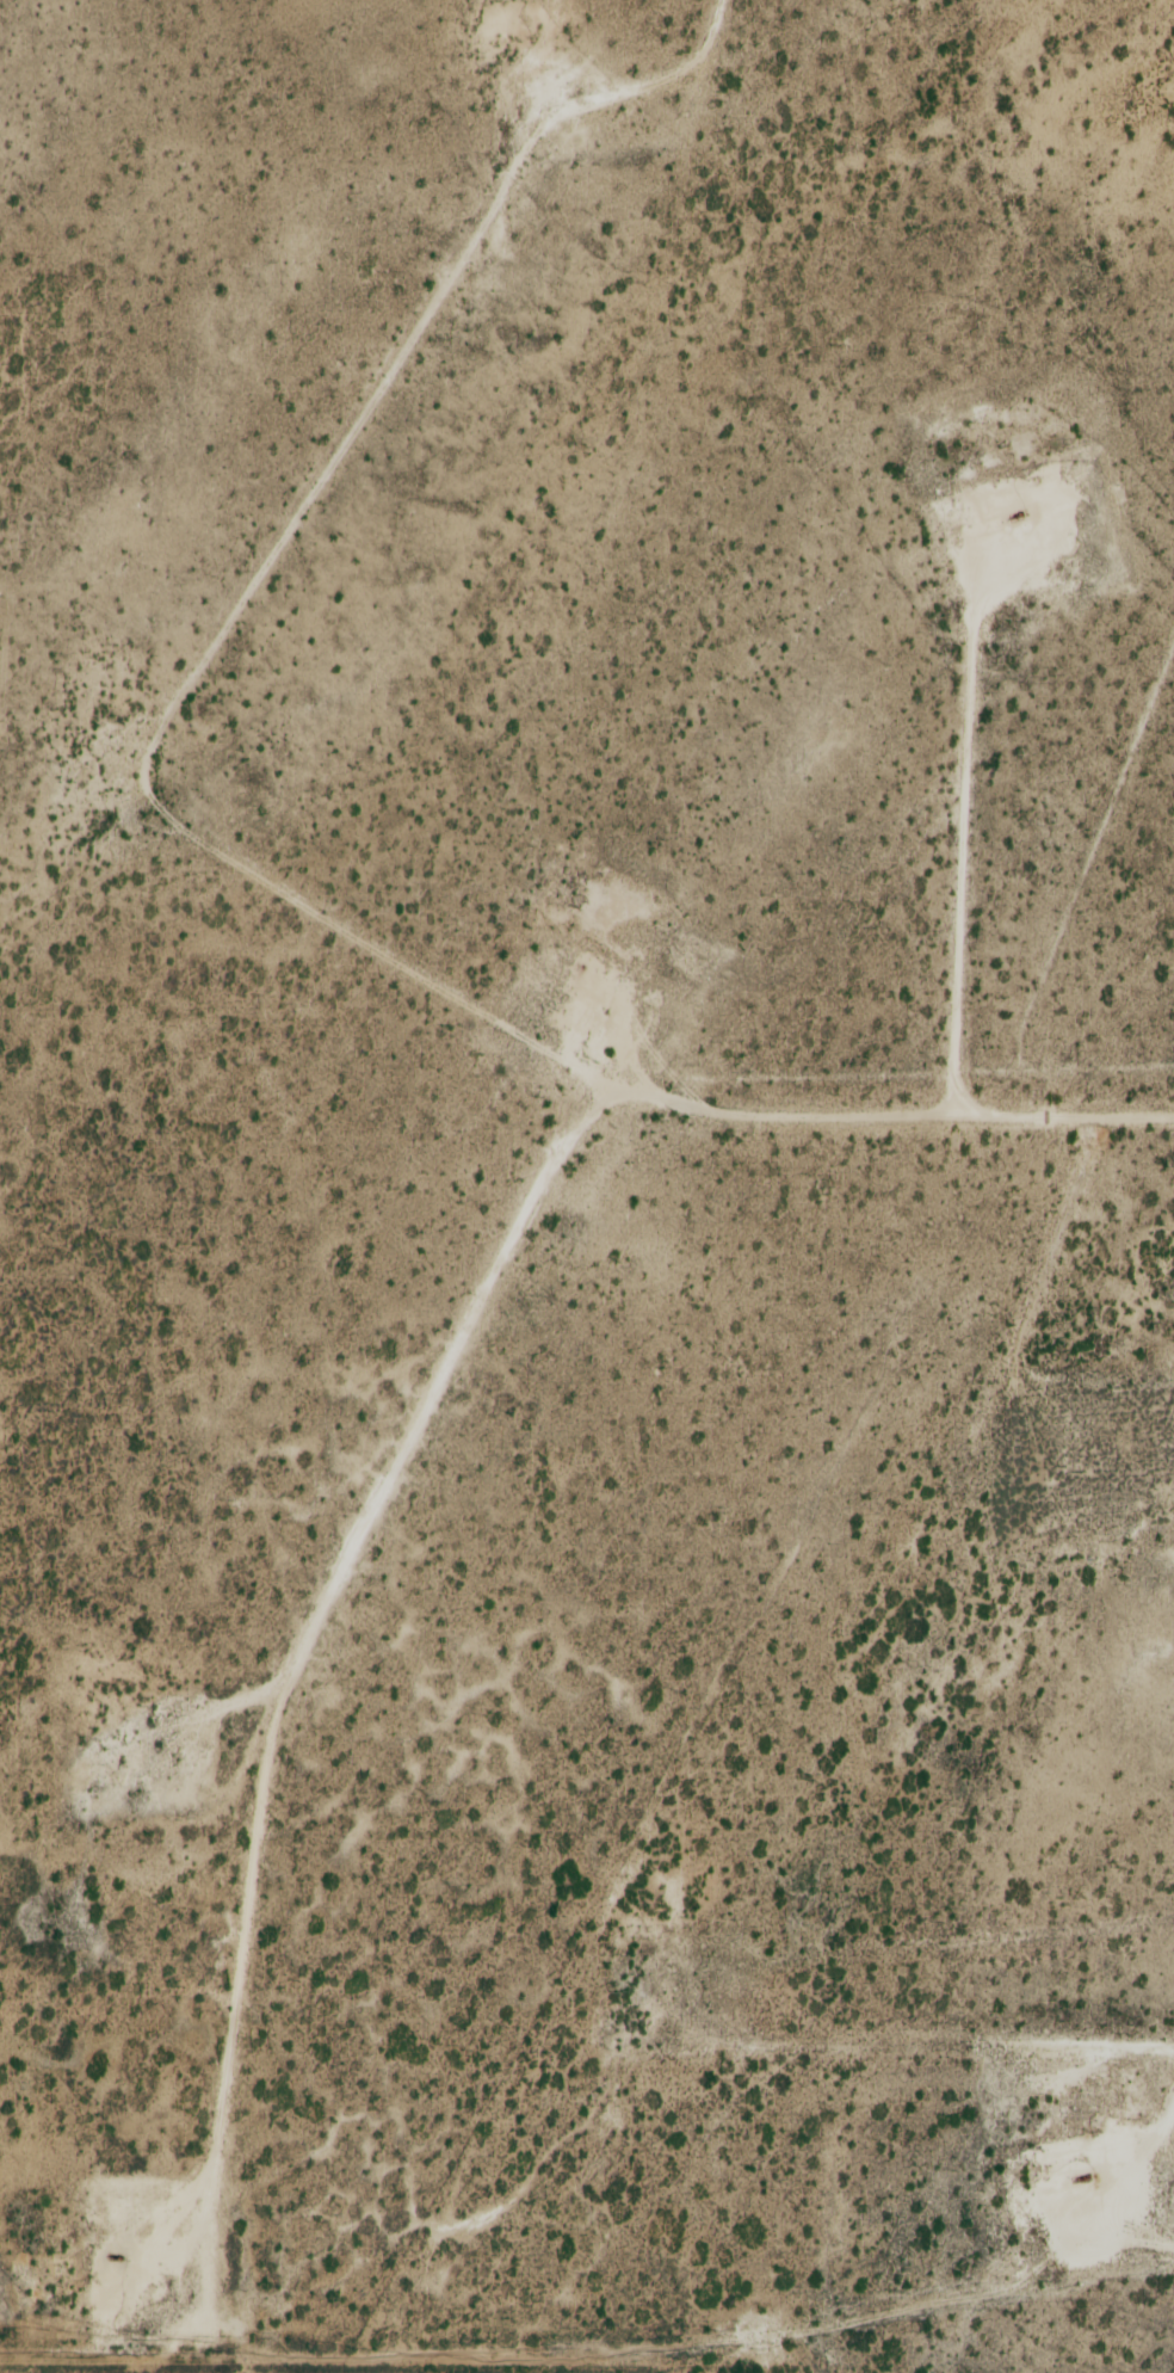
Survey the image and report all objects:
road: (344, 964)
road: (388, 1401)
road: (543, 1548)

